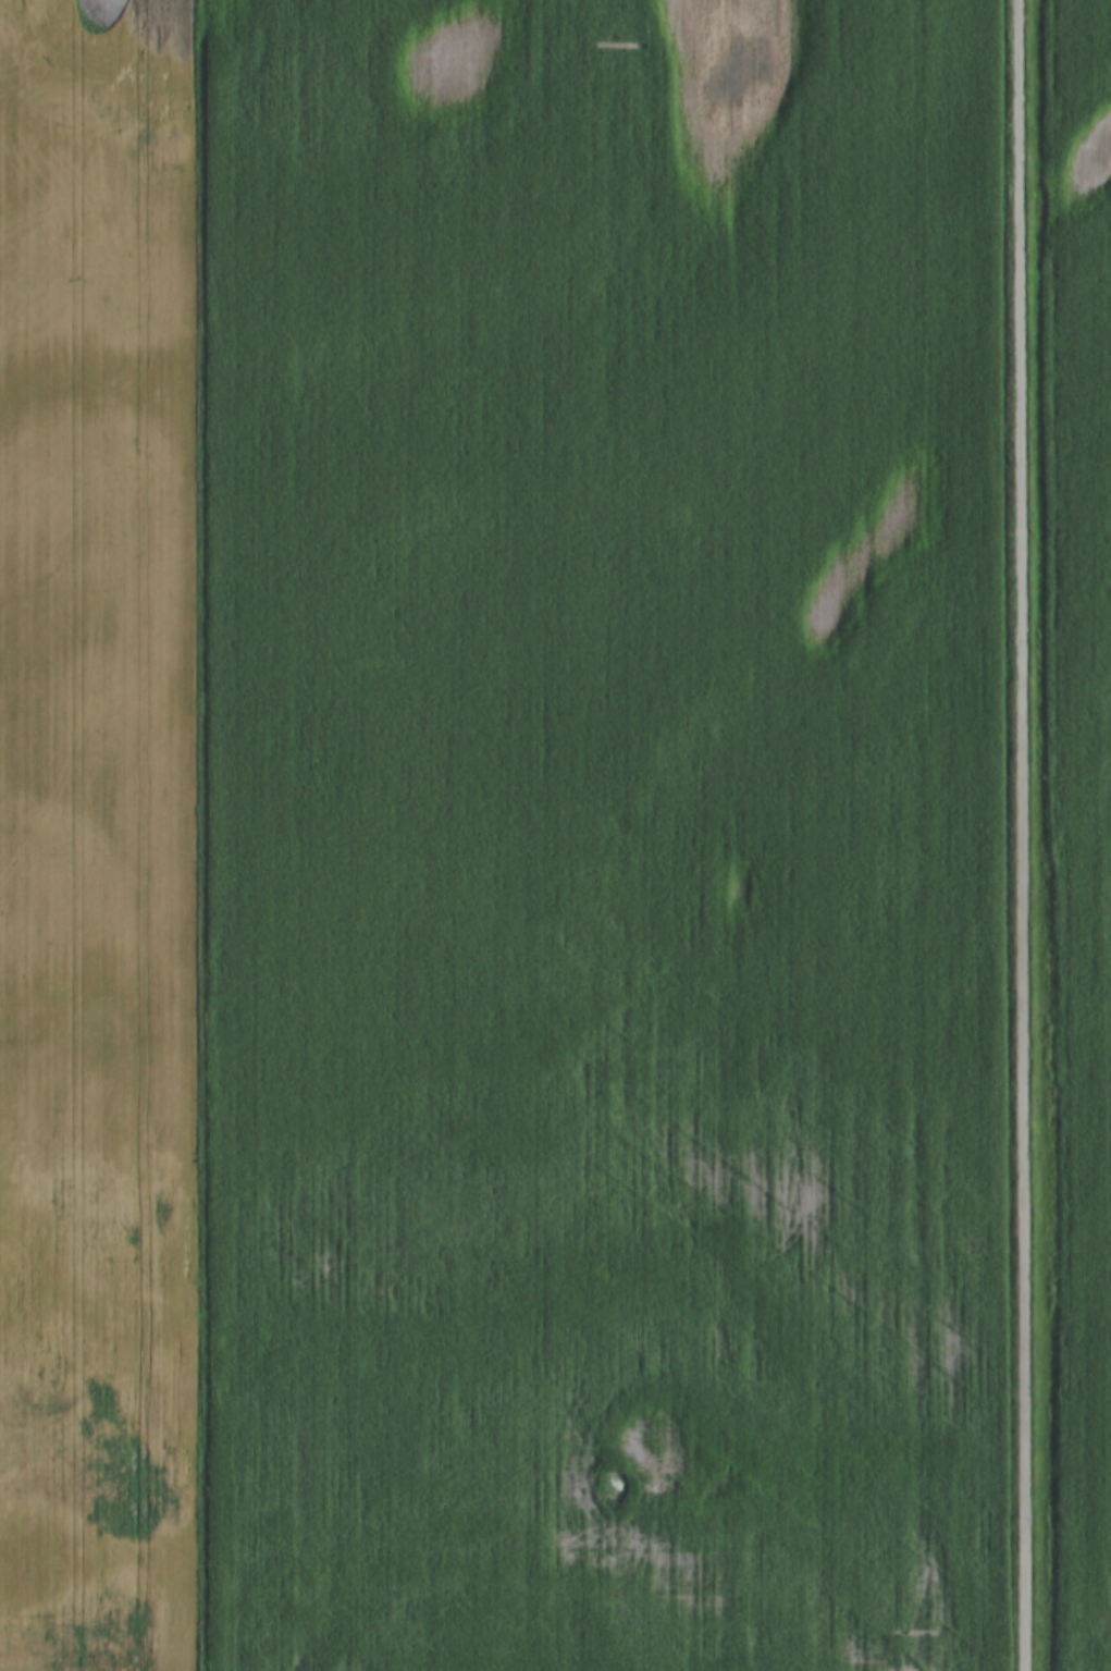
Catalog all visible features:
road: (1023, 835)

